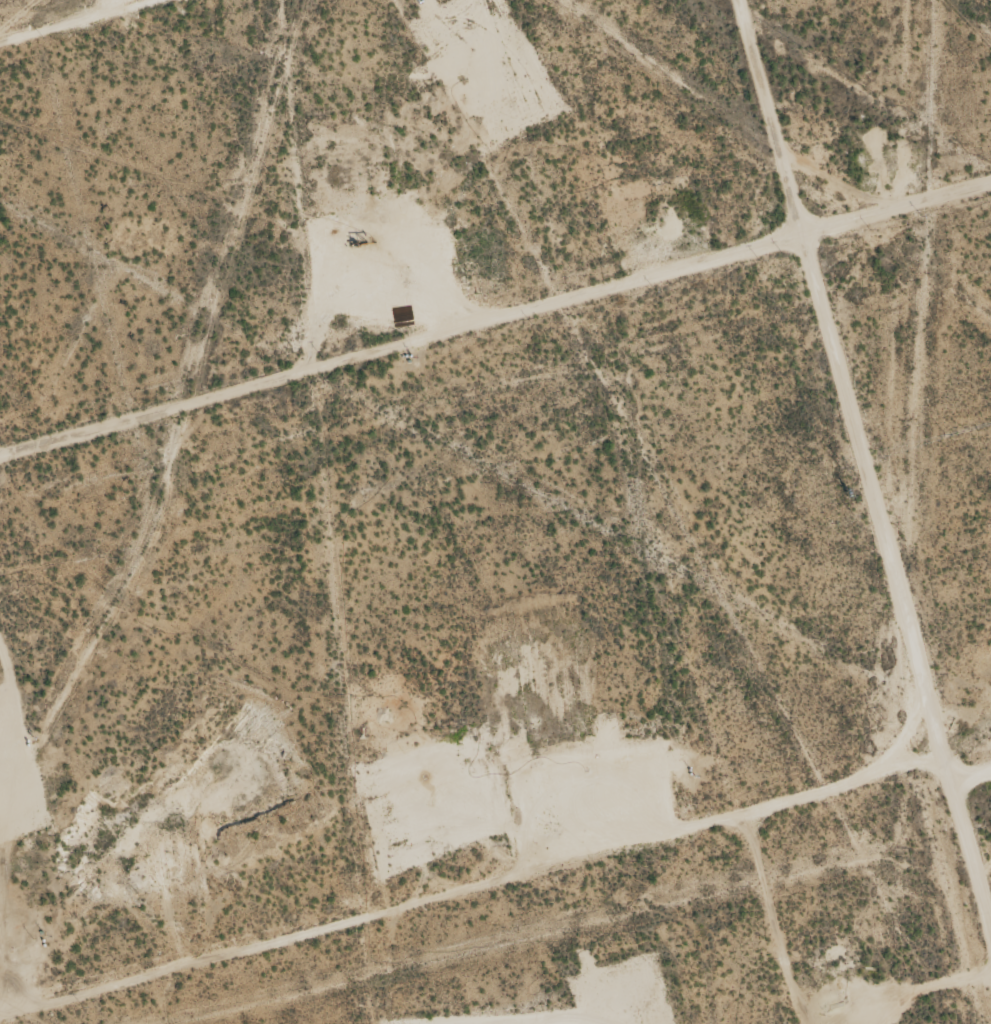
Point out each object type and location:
road: (164, 45)
road: (495, 339)
road: (855, 505)
road: (962, 793)

